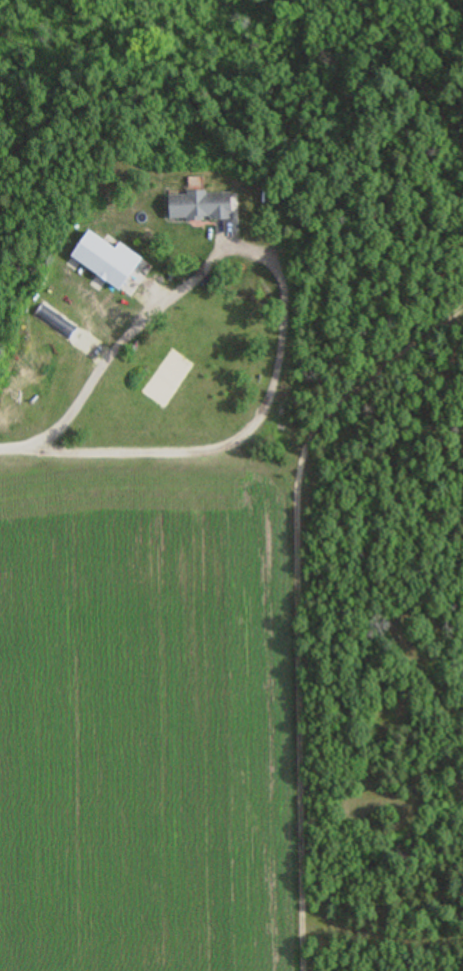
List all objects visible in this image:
building: (202, 206)
road: (283, 296)
road: (11, 449)

